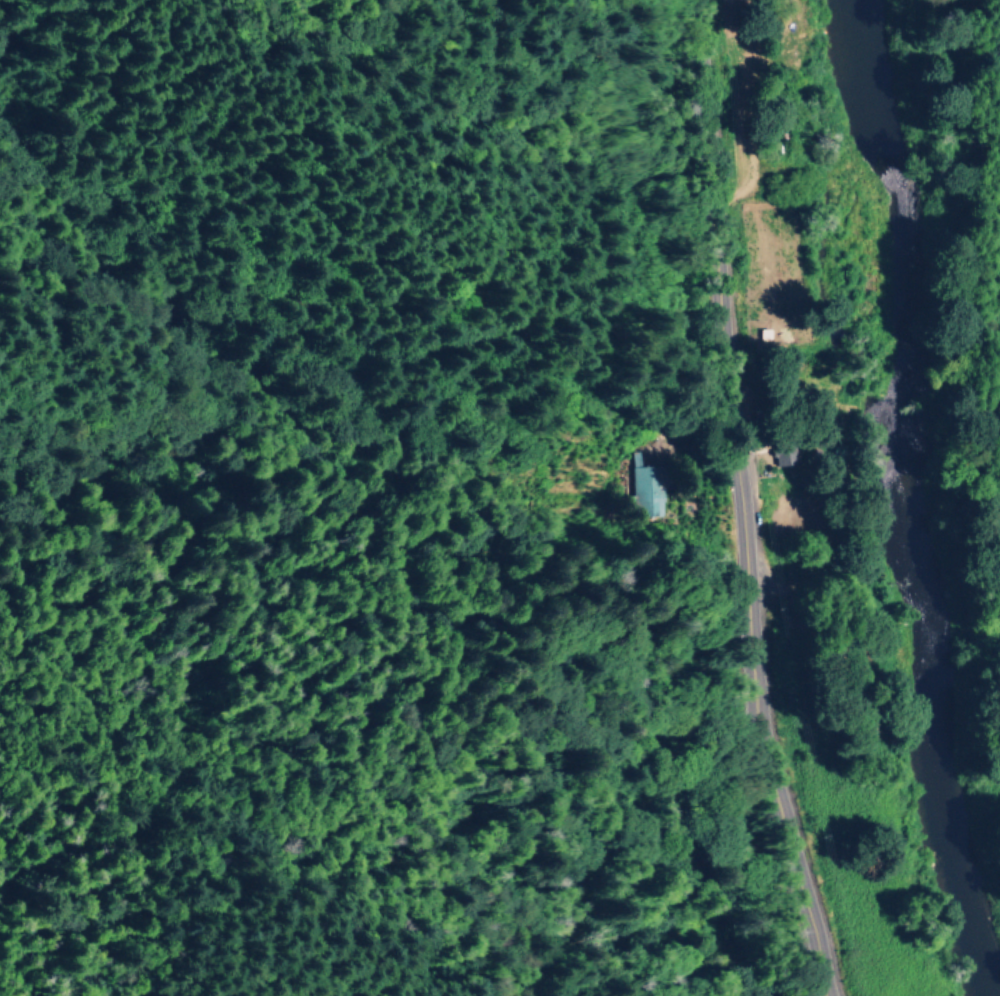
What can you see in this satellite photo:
building: (779, 456)
building: (644, 491)
river: (896, 500)
road: (739, 501)

